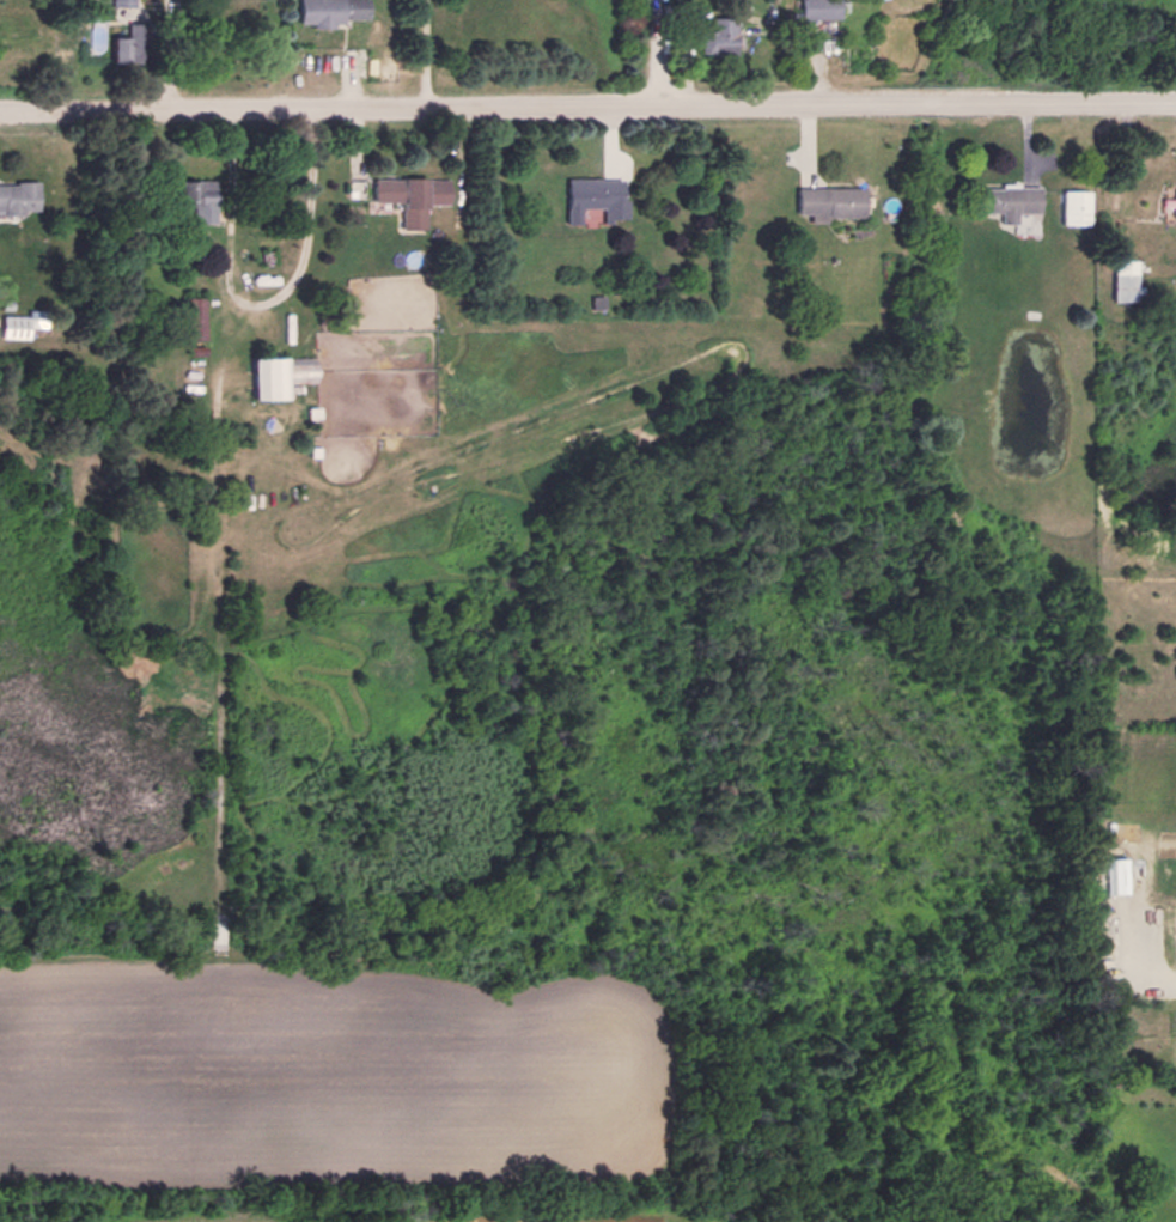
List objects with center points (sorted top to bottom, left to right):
building: (124, 4)
building: (822, 8)
building: (336, 11)
building: (723, 34)
building: (123, 45)
building: (865, 50)
road: (421, 51)
road: (587, 102)
building: (597, 195)
building: (20, 196)
building: (410, 197)
building: (201, 199)
building: (834, 200)
building: (1004, 200)
building: (1170, 202)
building: (1068, 207)
building: (1116, 279)
building: (23, 322)
building: (288, 373)
road: (1147, 938)

